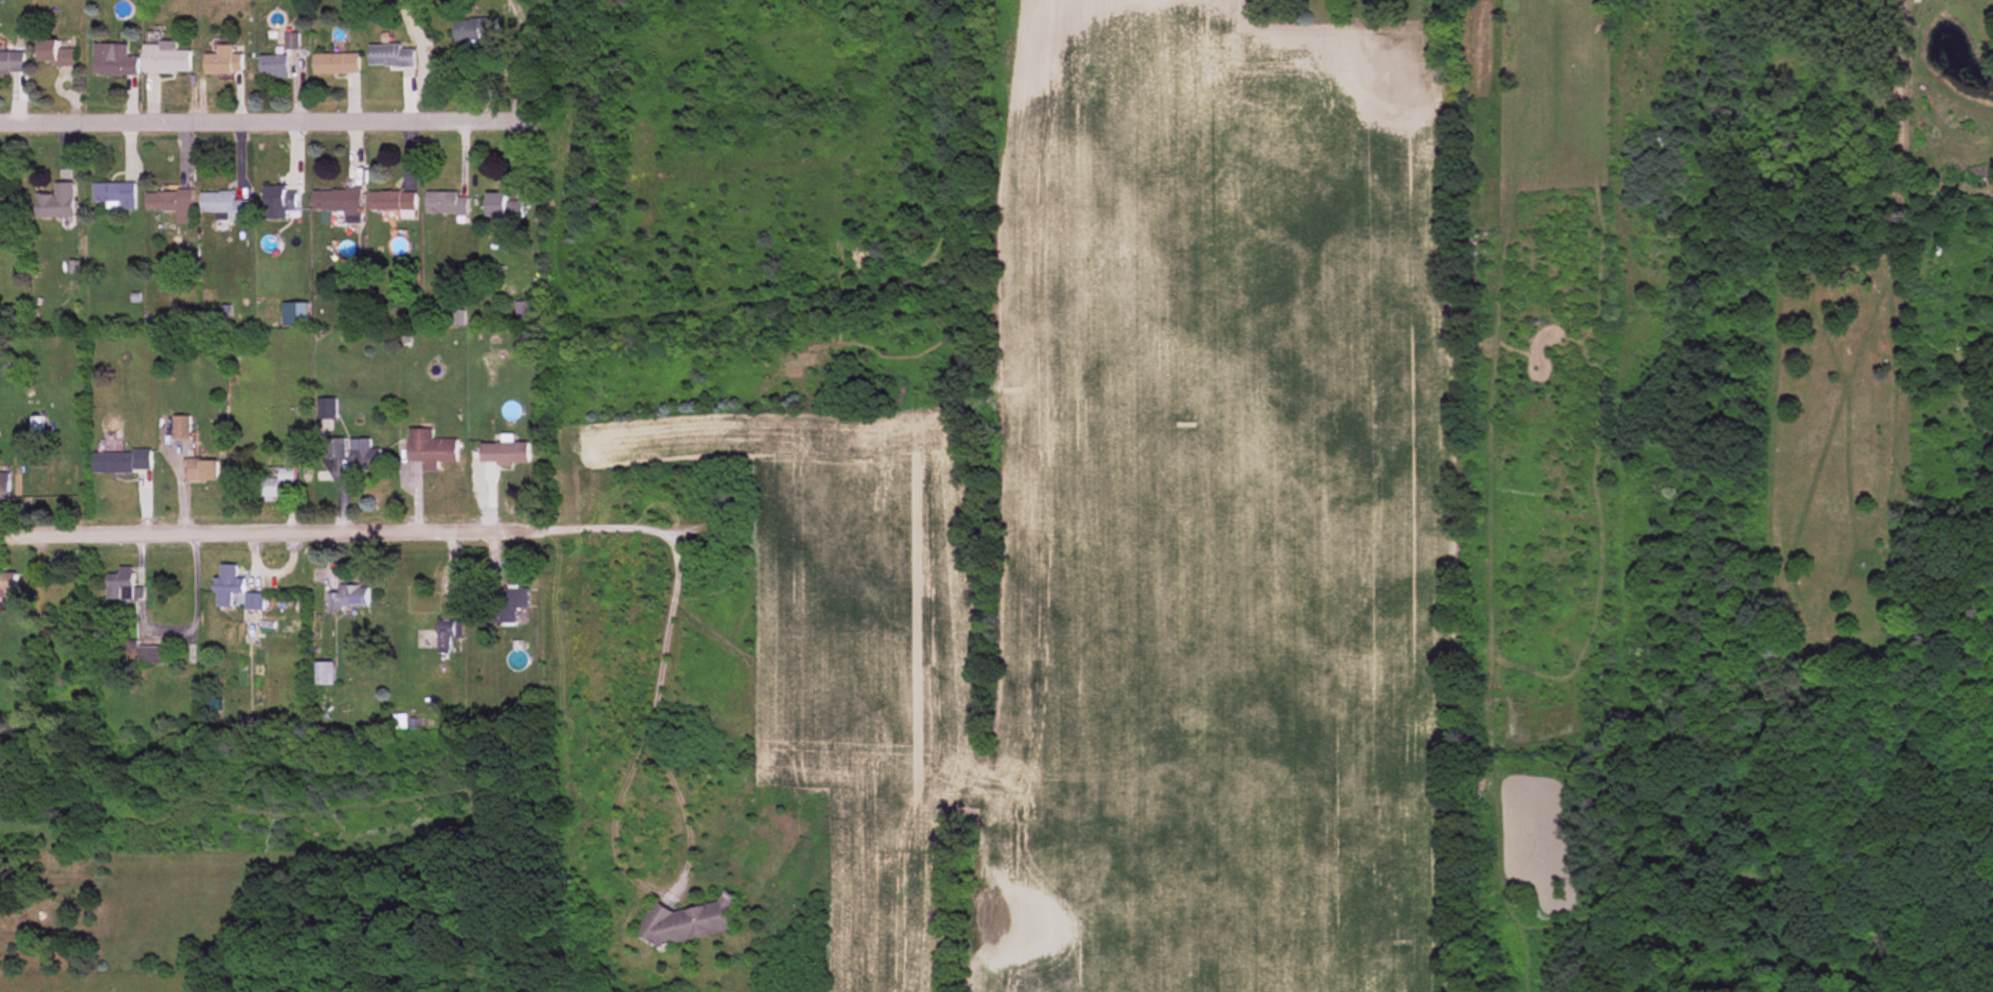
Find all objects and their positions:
building: (1585, 1)
building: (474, 29)
building: (854, 34)
building: (54, 53)
building: (390, 56)
building: (165, 57)
building: (113, 60)
building: (223, 61)
building: (11, 62)
building: (335, 63)
building: (273, 65)
road: (270, 123)
building: (114, 194)
building: (336, 200)
building: (391, 201)
building: (56, 202)
building: (171, 202)
building: (279, 202)
building: (445, 203)
building: (225, 204)
building: (501, 206)
building: (524, 312)
building: (294, 314)
building: (349, 315)
building: (326, 408)
building: (179, 427)
building: (430, 448)
building: (335, 450)
building: (505, 453)
building: (364, 455)
building: (121, 461)
building: (201, 470)
building: (276, 483)
building: (4, 488)
road: (271, 532)
building: (8, 581)
building: (120, 584)
building: (226, 585)
building: (349, 596)
building: (253, 602)
building: (509, 606)
building: (448, 632)
building: (151, 655)
building: (325, 673)
building: (400, 721)
road: (638, 748)
building: (689, 922)

